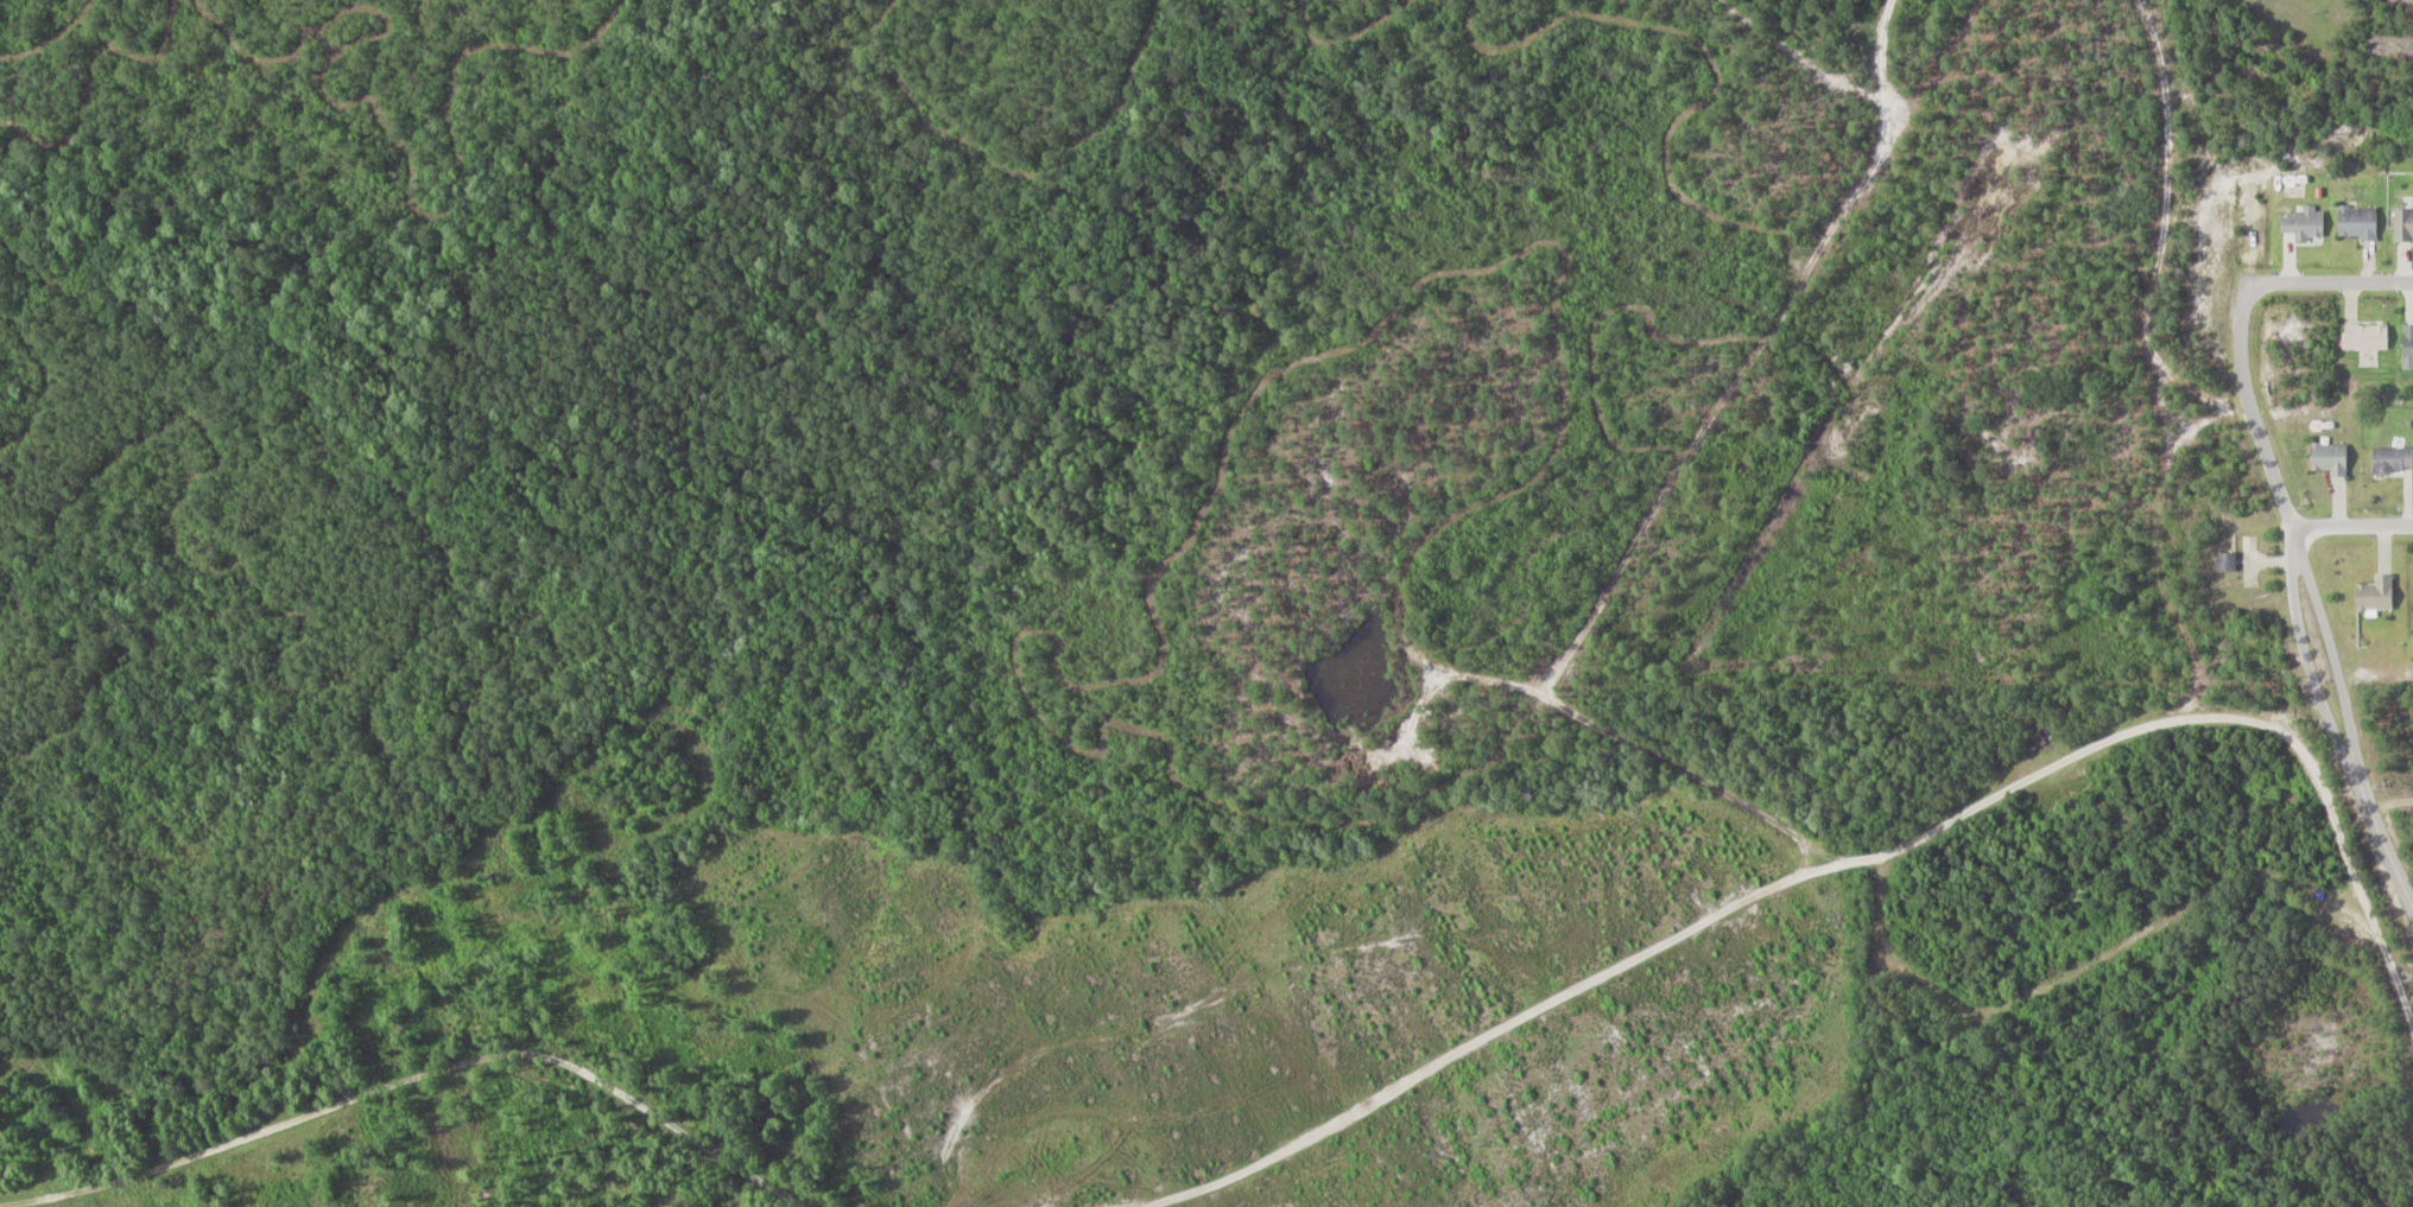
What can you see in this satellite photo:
building: (2358, 222)
building: (2403, 223)
building: (2305, 224)
road: (2215, 268)
road: (2318, 291)
building: (2408, 347)
building: (2330, 459)
building: (2393, 462)
road: (2358, 519)
building: (2227, 563)
building: (2377, 596)
road: (2348, 718)

